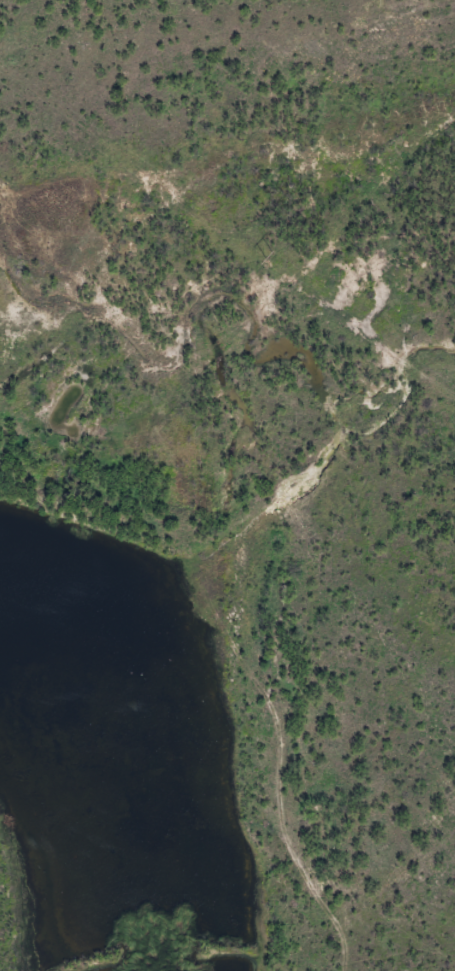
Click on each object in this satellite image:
power tower: (261, 260)

